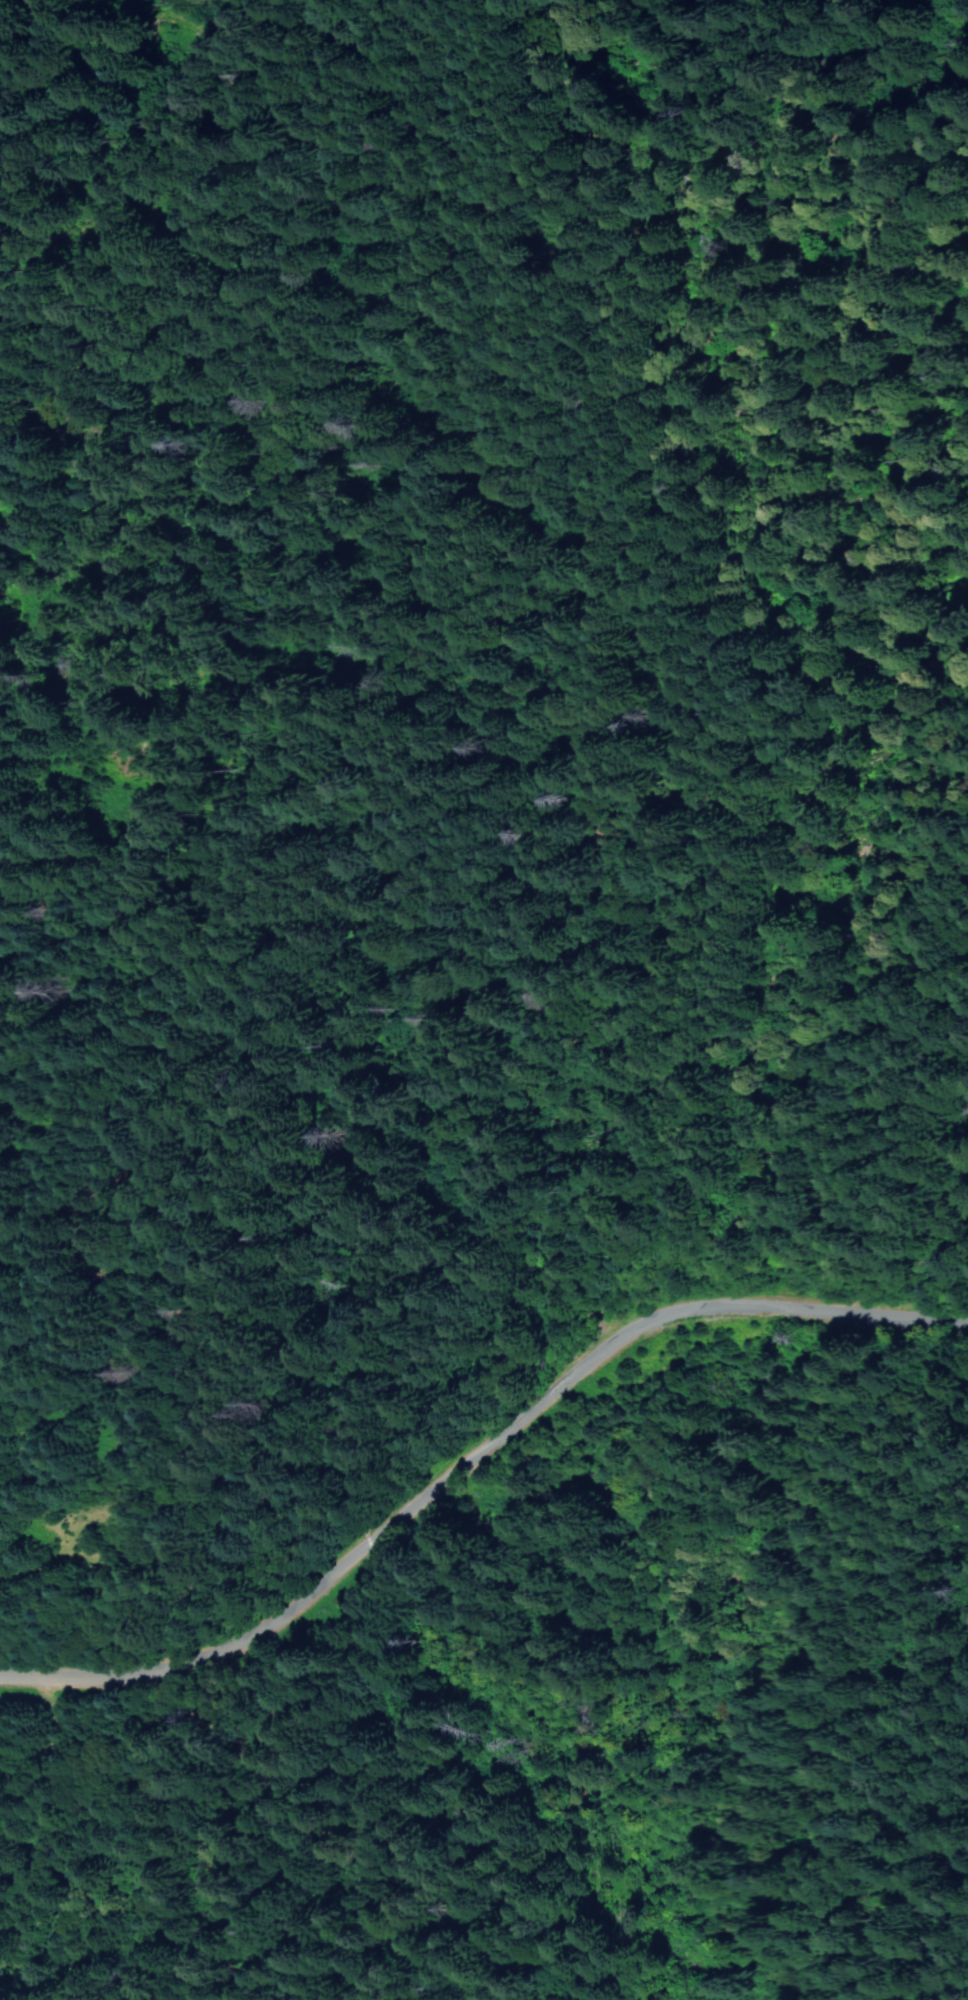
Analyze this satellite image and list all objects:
road: (480, 1450)
road: (25, 1620)
park: (33, 1773)

